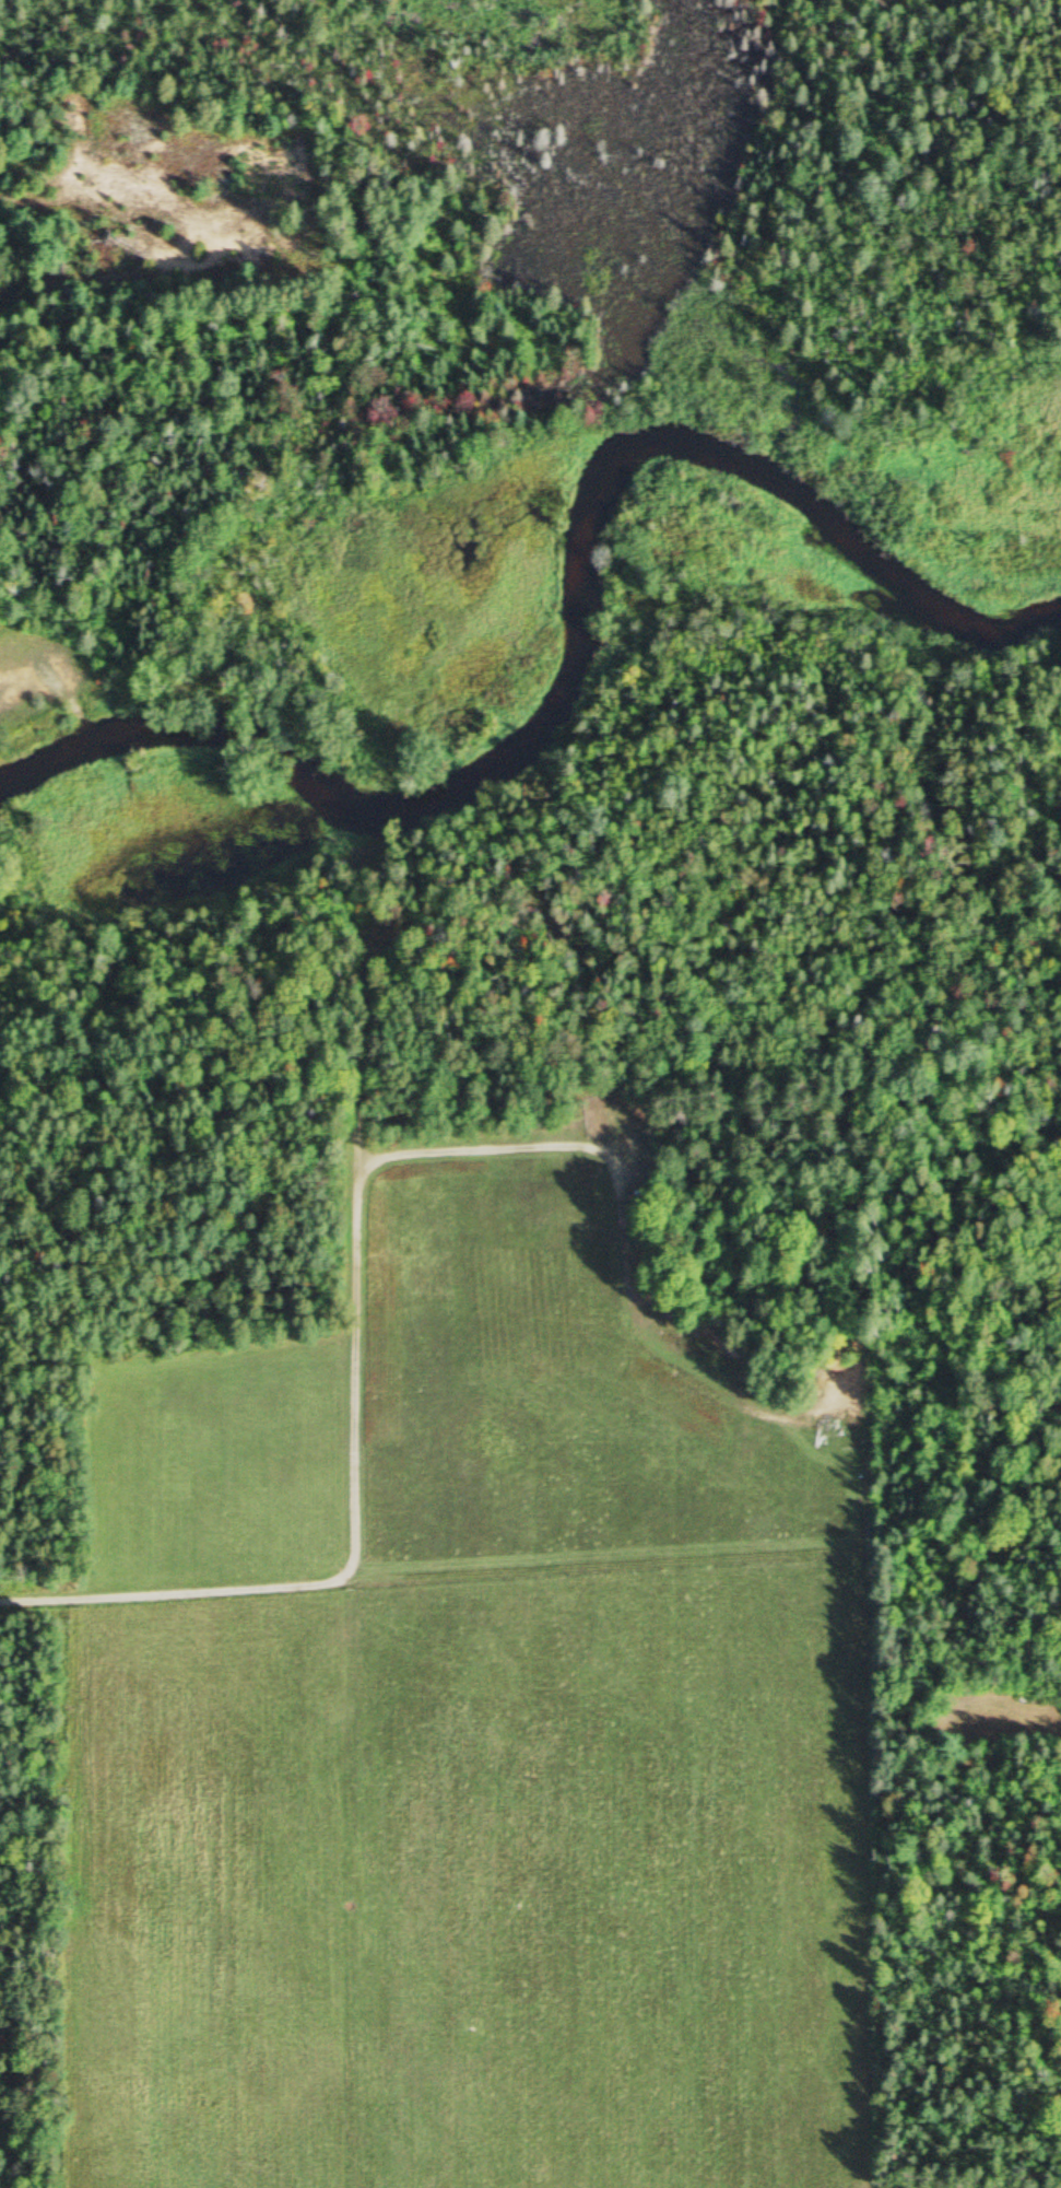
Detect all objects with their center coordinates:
river: (576, 643)

